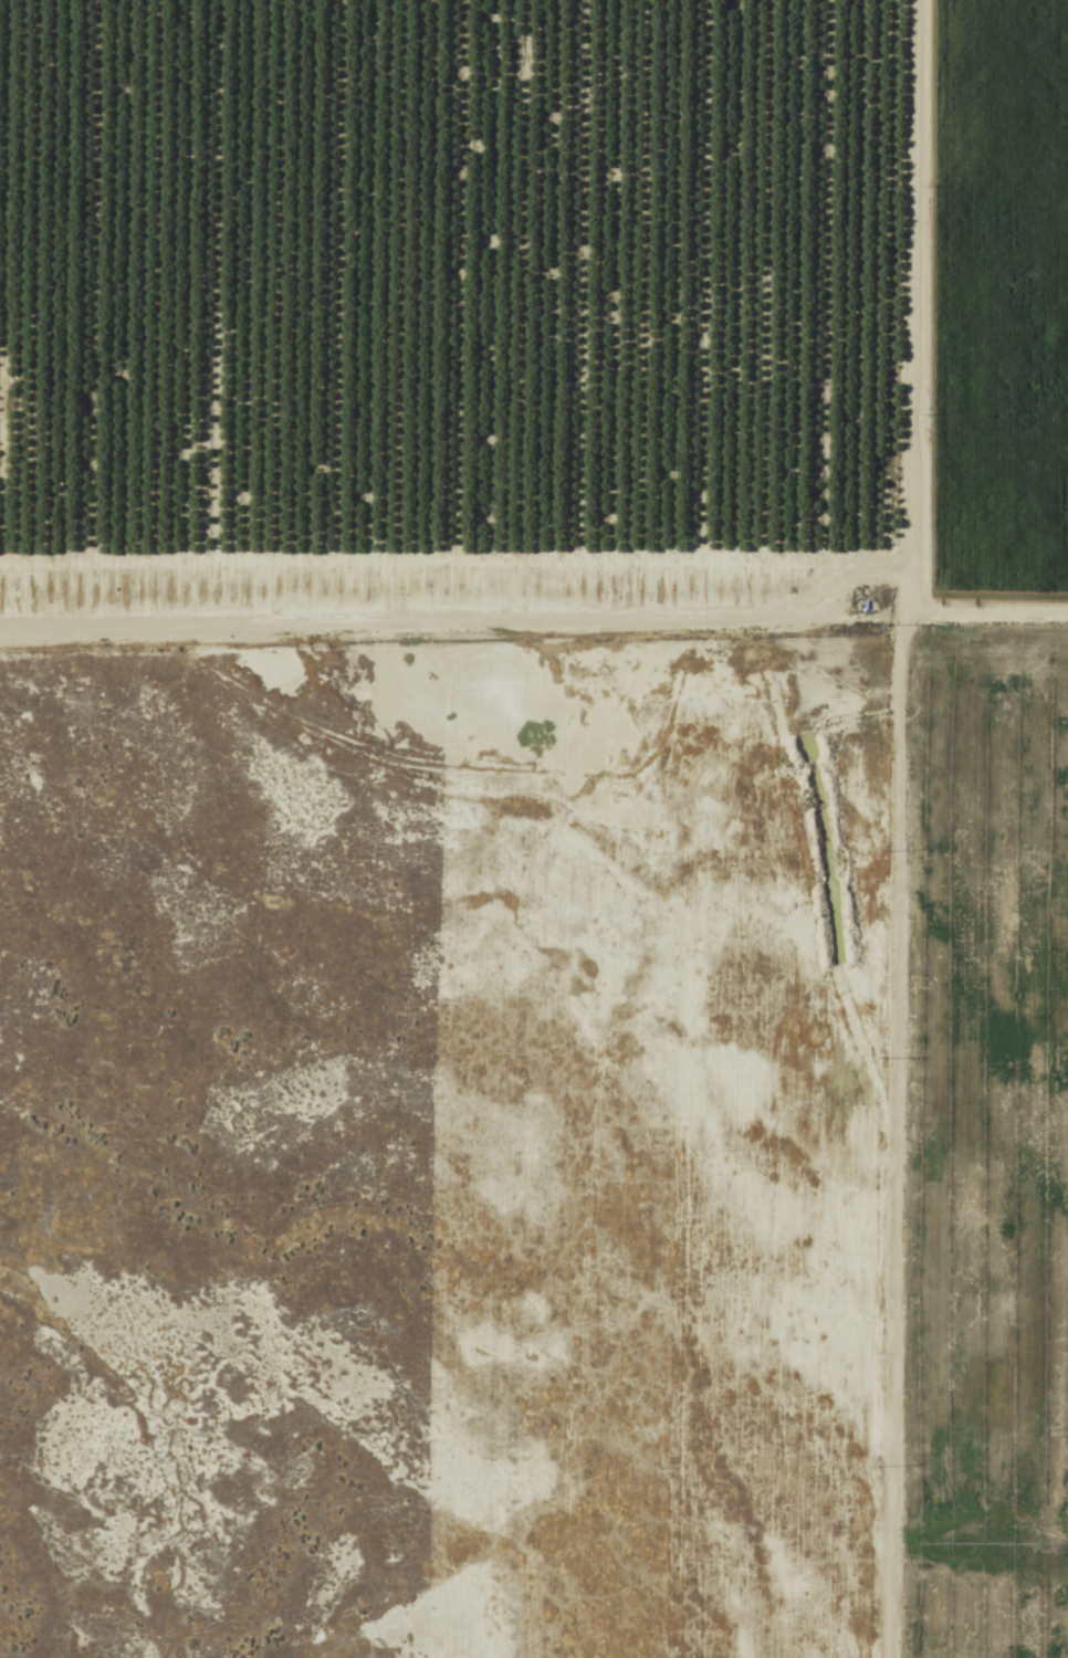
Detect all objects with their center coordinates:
road: (988, 710)
road: (907, 829)

